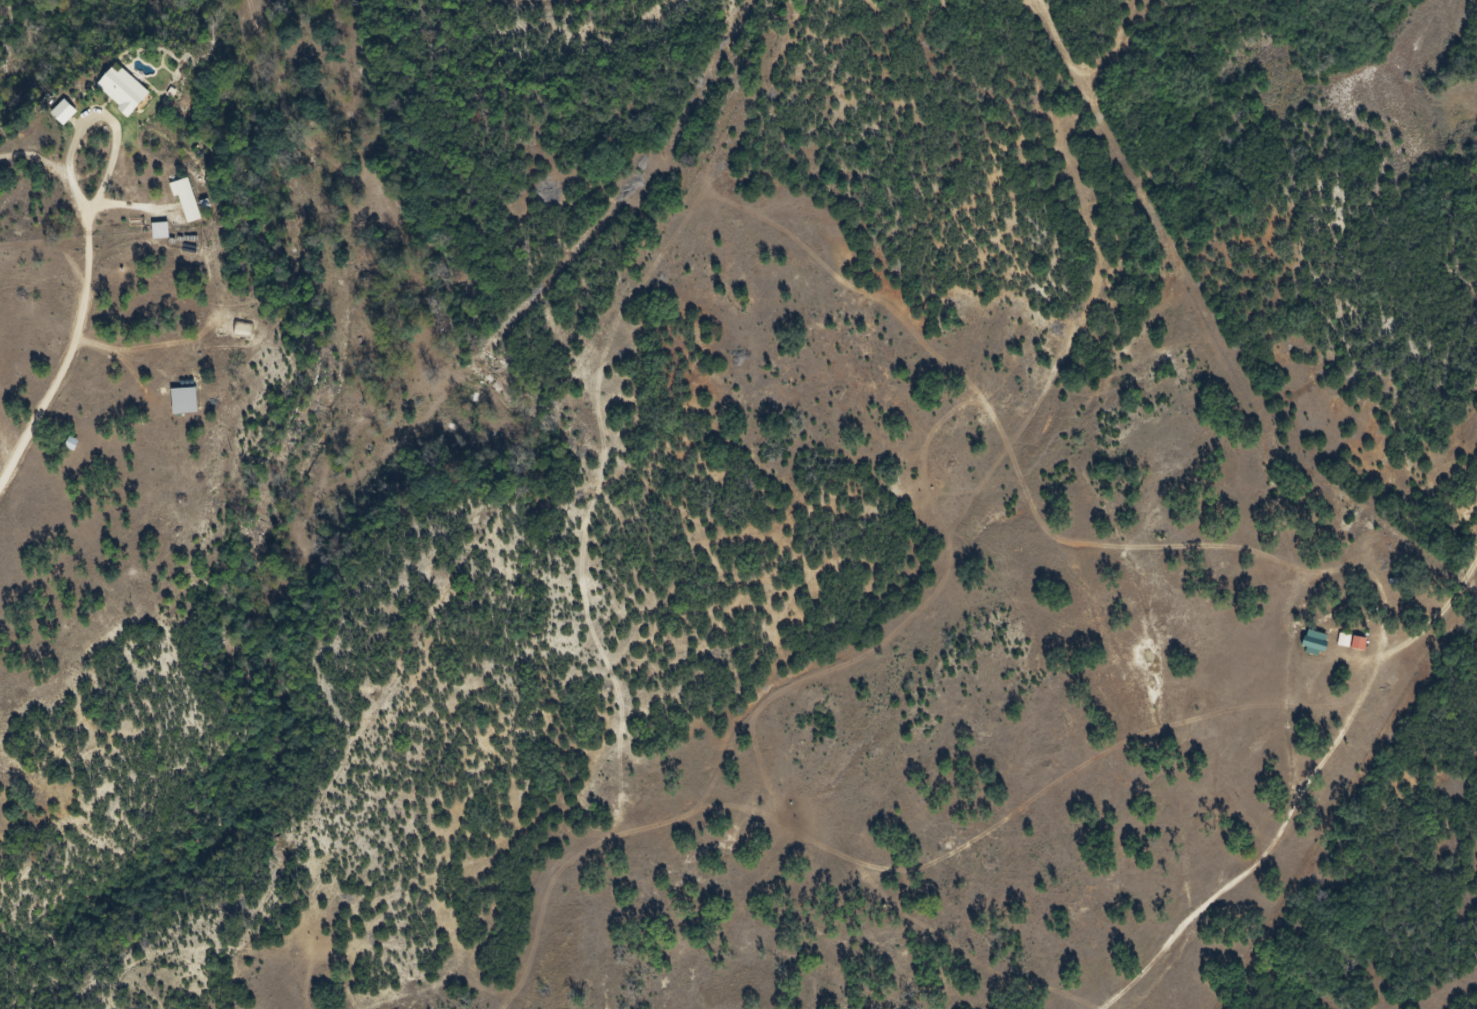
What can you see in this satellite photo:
building: (112, 94)
building: (54, 117)
road: (37, 159)
road: (70, 168)
building: (177, 206)
building: (150, 236)
road: (113, 353)
building: (174, 406)
road: (38, 420)
building: (1348, 649)

